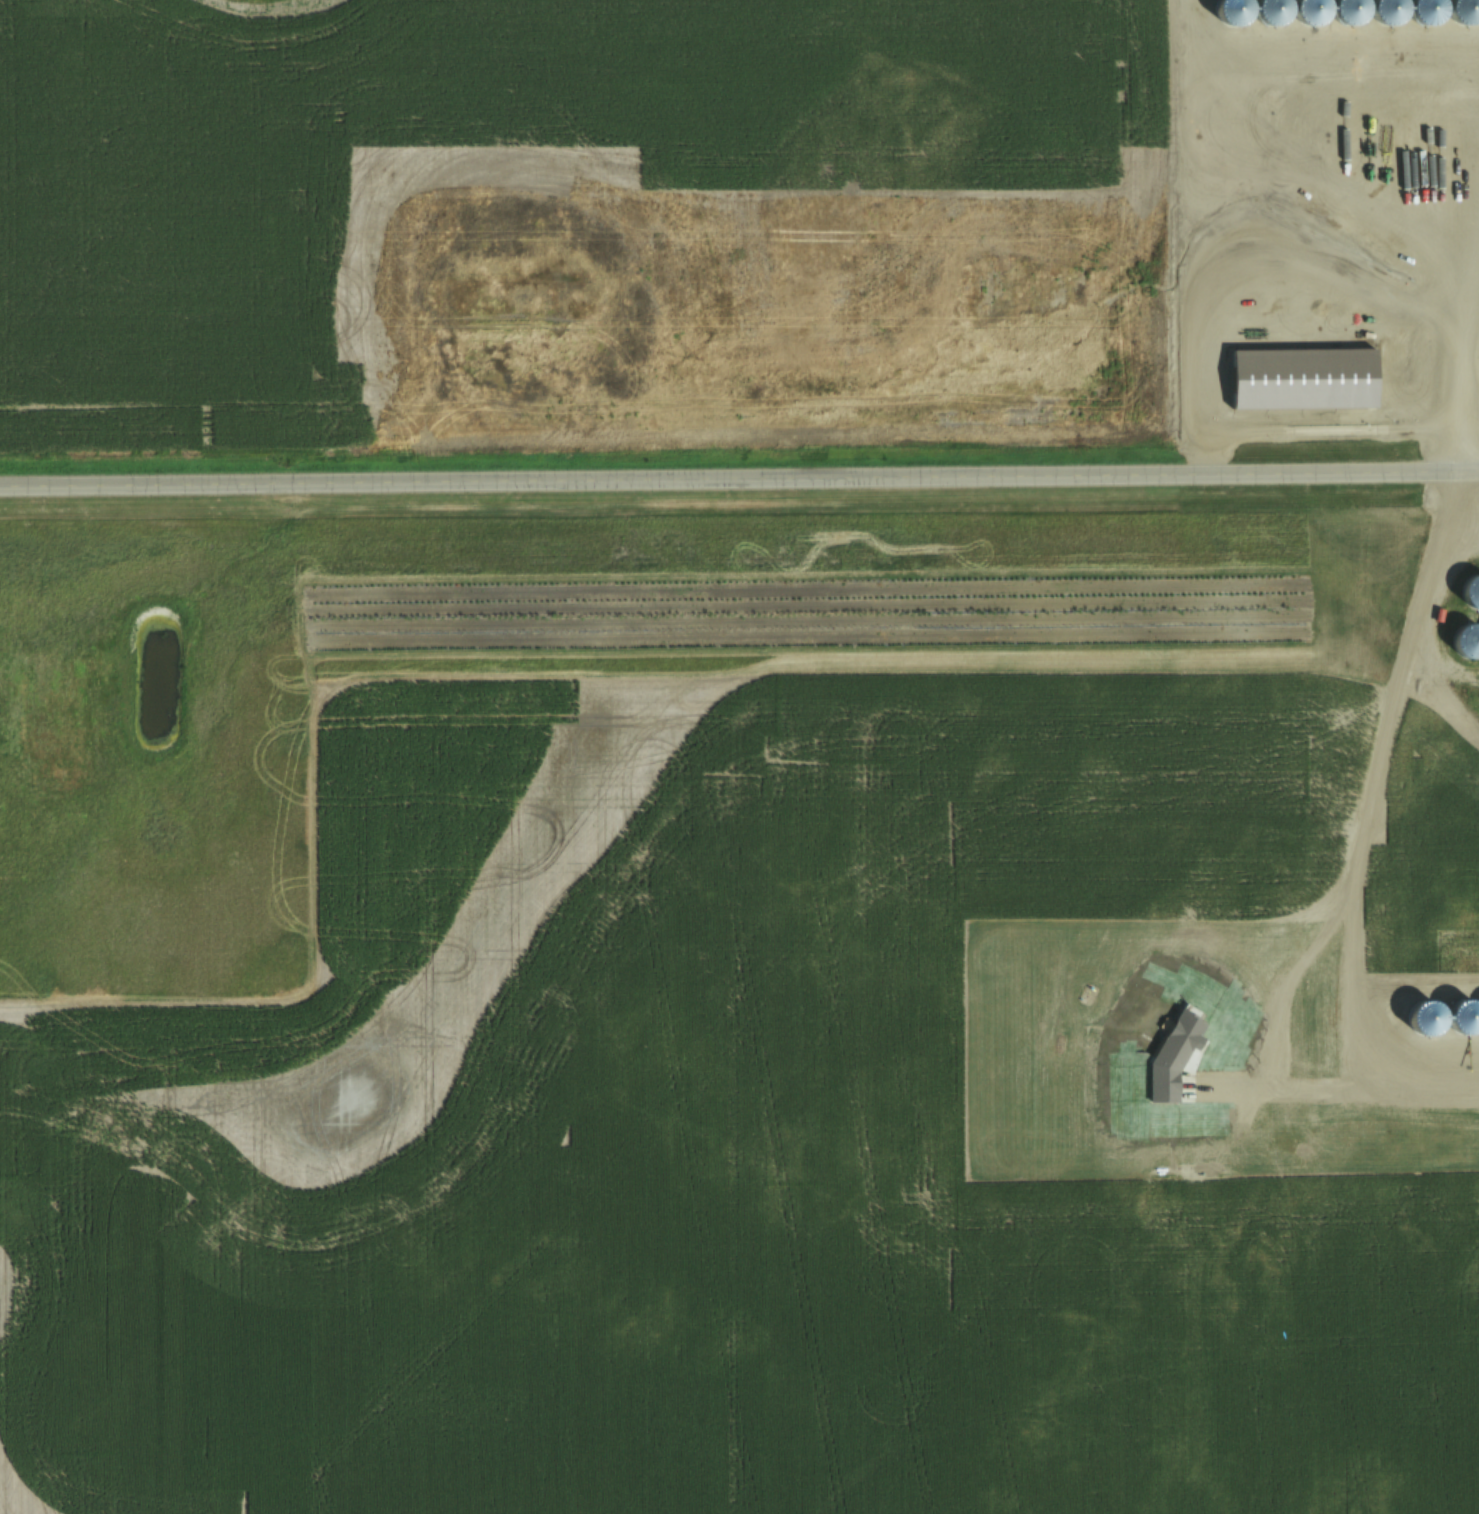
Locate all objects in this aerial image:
road: (739, 474)
building: (1473, 590)
building: (1469, 639)

